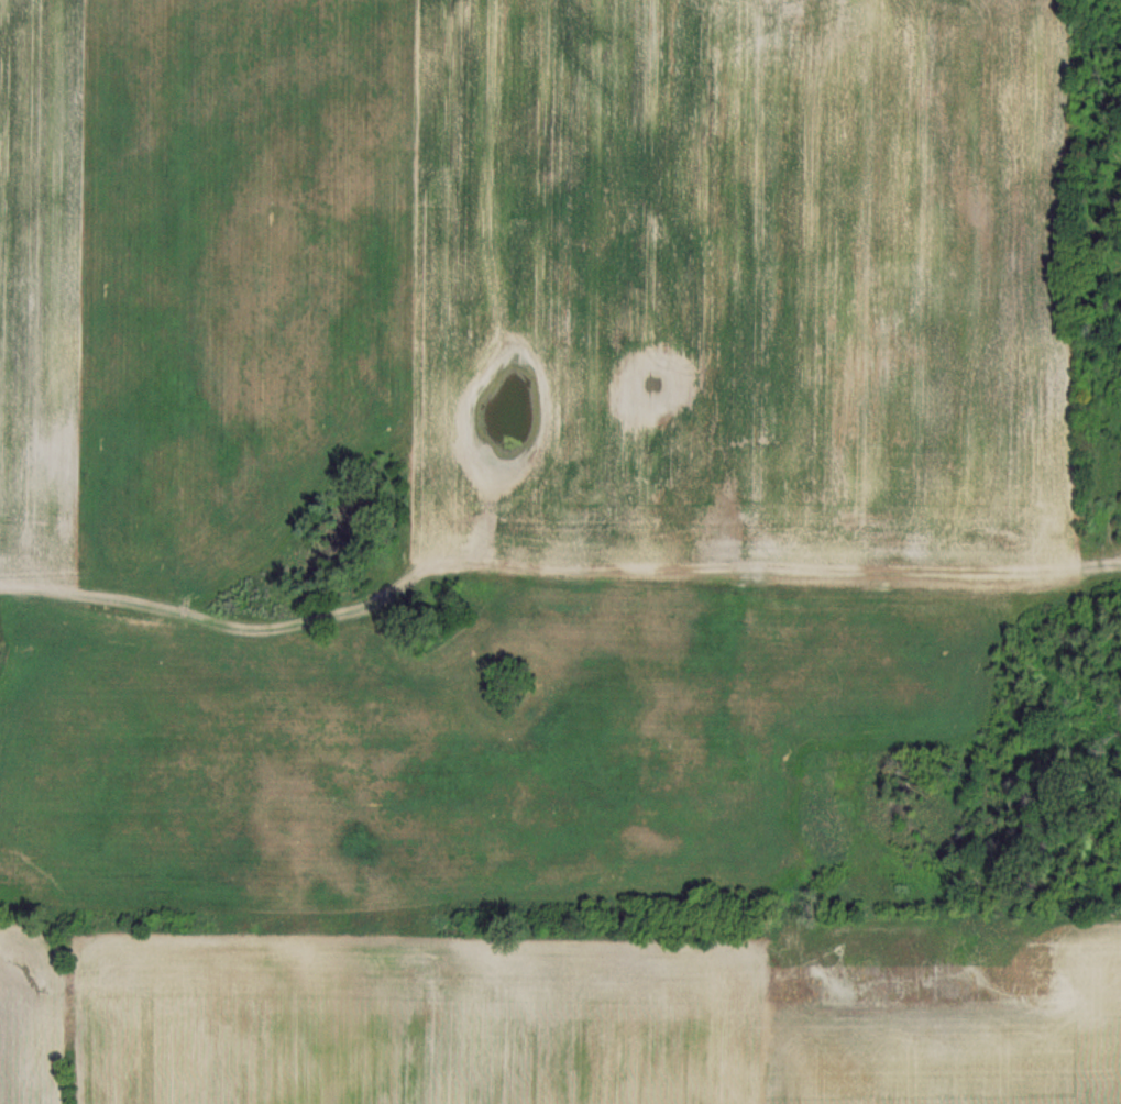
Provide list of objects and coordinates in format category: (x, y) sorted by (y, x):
park: (1090, 29)

